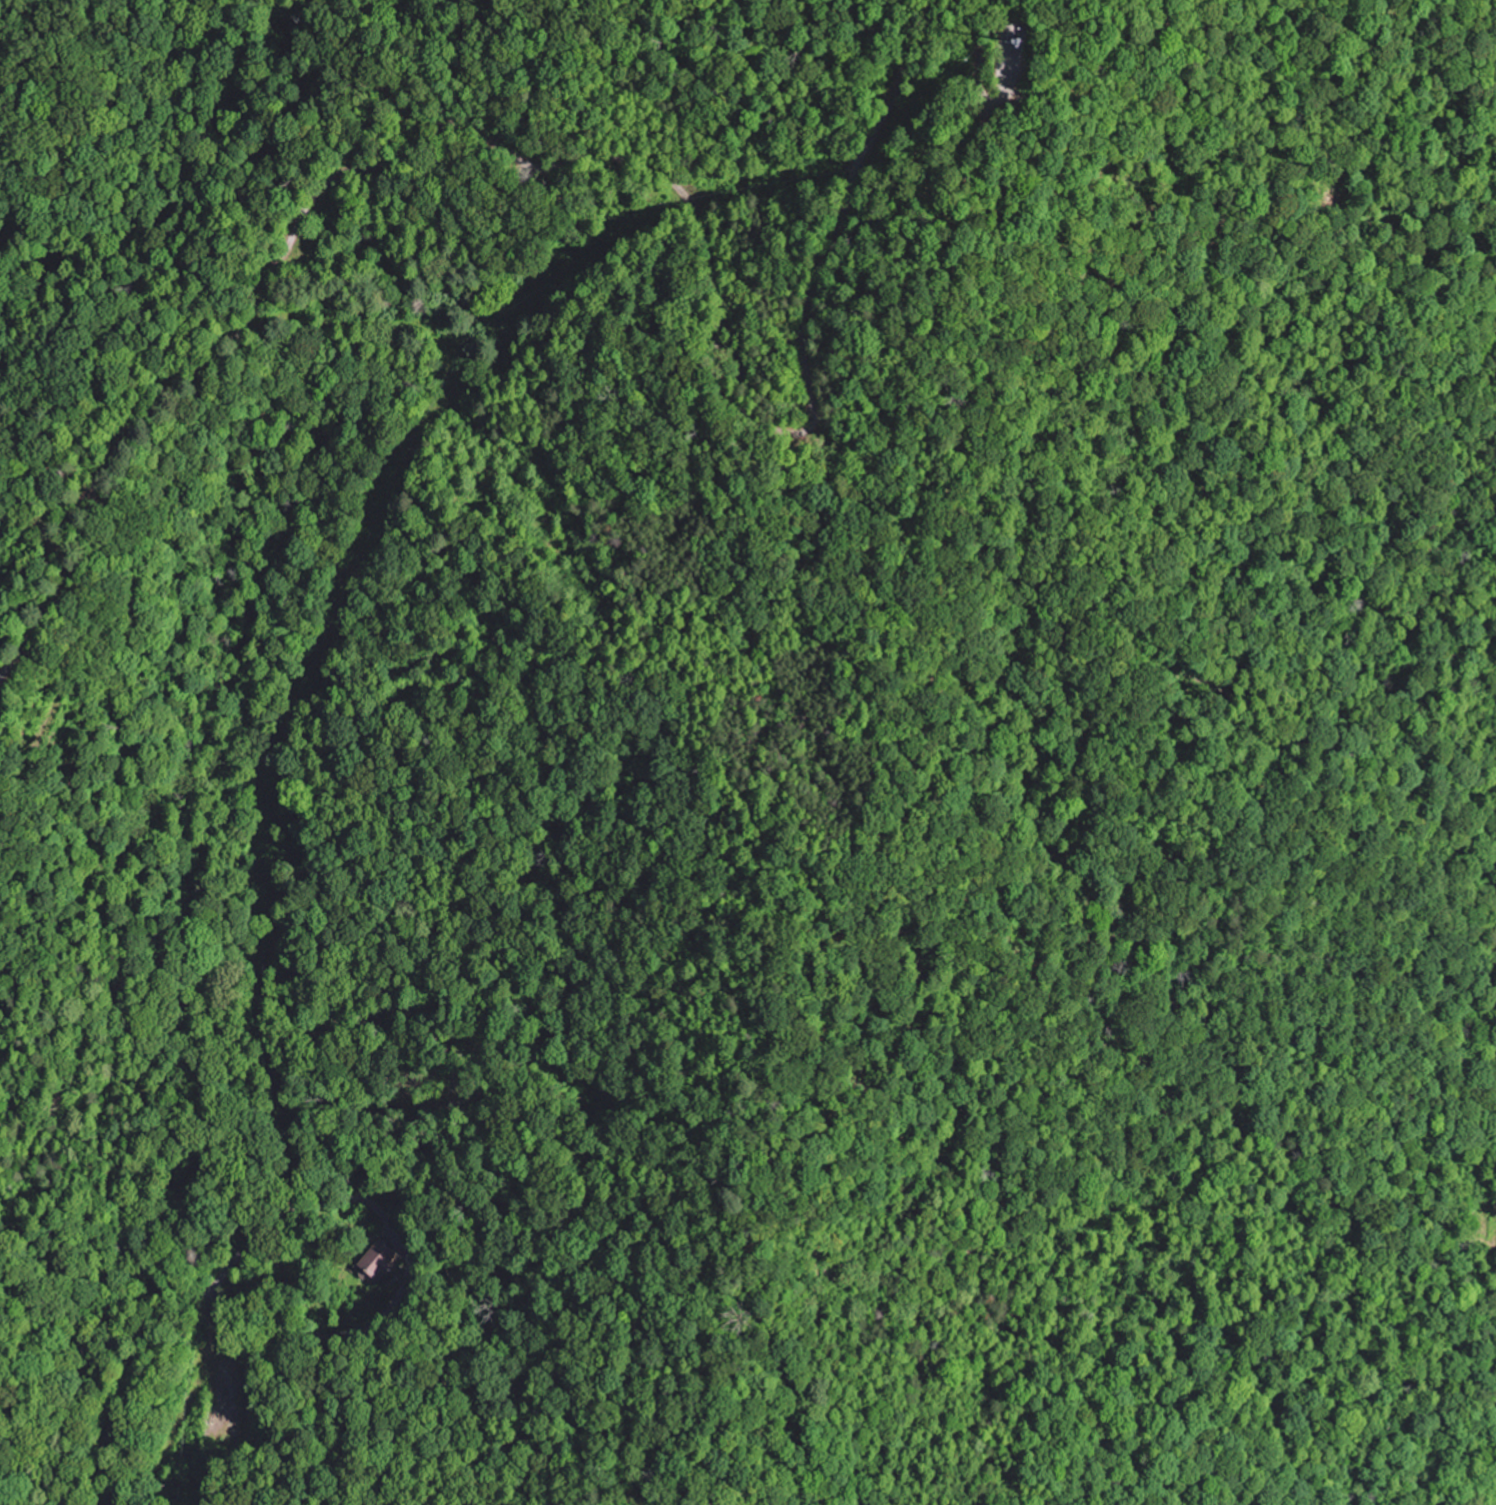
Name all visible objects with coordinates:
building: (373, 1259)

